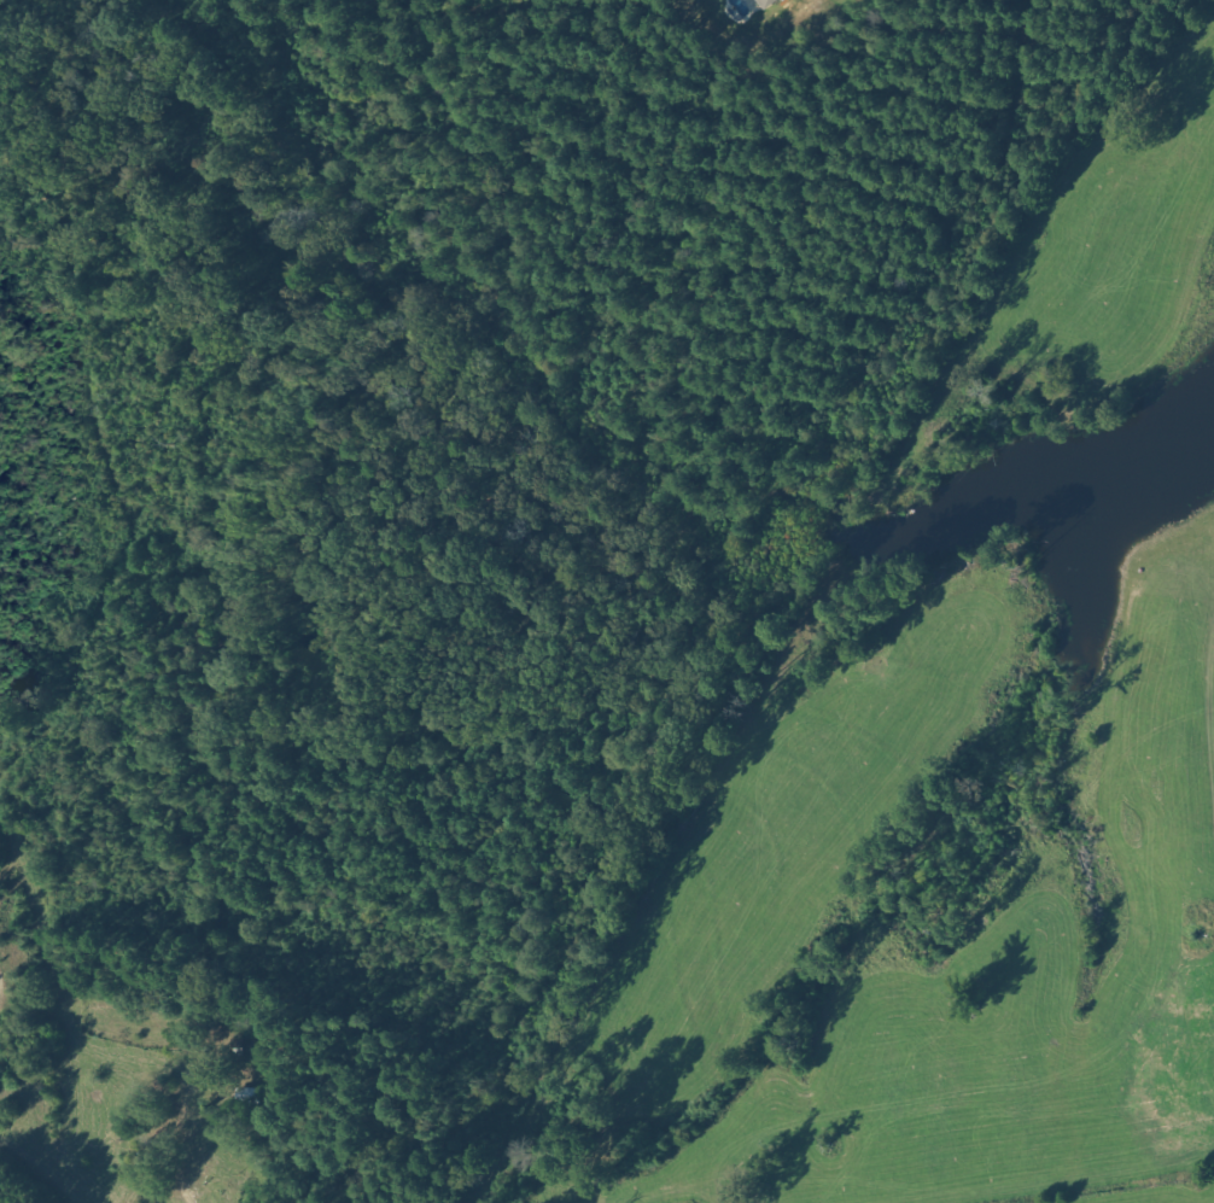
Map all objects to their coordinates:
building: (764, 2)

